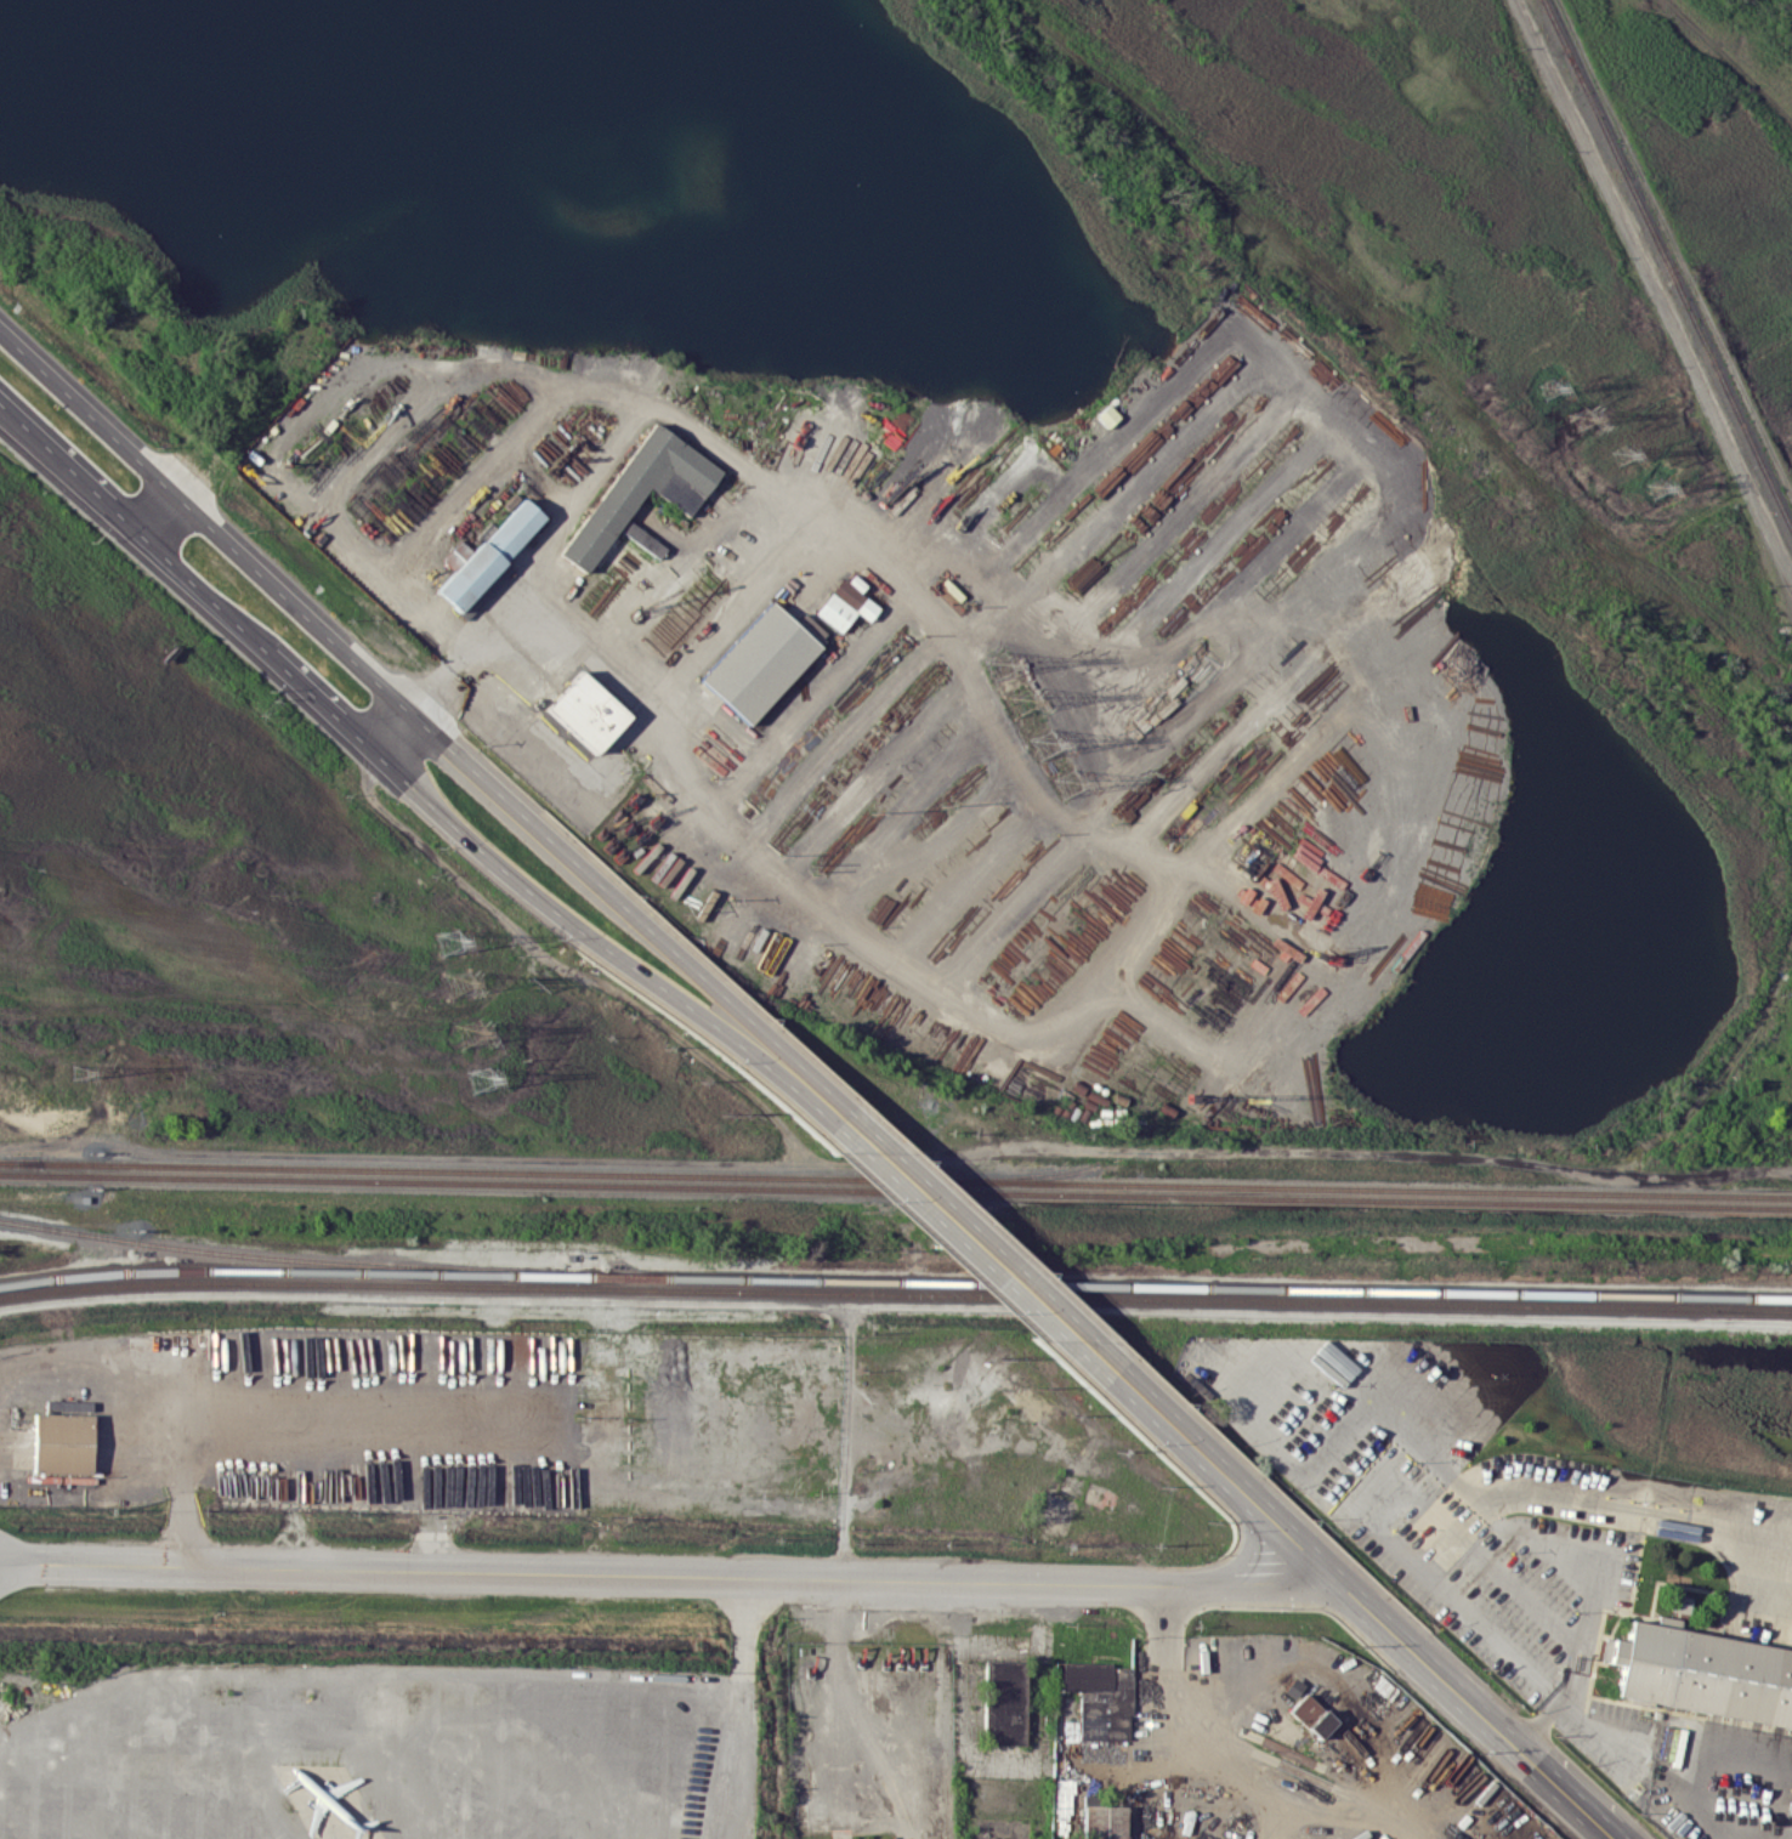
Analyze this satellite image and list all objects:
power tower: (1549, 388)
building: (1106, 415)
power tower: (1581, 418)
power tower: (1621, 454)
road: (69, 467)
power tower: (1656, 487)
building: (616, 501)
road: (155, 513)
road: (200, 522)
building: (642, 539)
building: (486, 555)
road: (200, 588)
building: (844, 602)
road: (563, 623)
road: (1278, 635)
building: (761, 660)
power tower: (1000, 665)
road: (316, 692)
building: (585, 711)
road: (385, 725)
power tower: (1047, 743)
power tower: (1067, 783)
road: (1093, 833)
building: (1294, 864)
road: (591, 887)
road: (568, 912)
power tower: (449, 941)
power tower: (459, 983)
power tower: (470, 1034)
power tower: (79, 1072)
power tower: (480, 1080)
railway: (19, 1163)
railway: (895, 1179)
railway: (896, 1190)
road: (913, 1190)
railway: (280, 1258)
railway: (385, 1271)
railway: (1281, 1288)
railway: (895, 1295)
road: (1146, 1404)
building: (62, 1443)
road: (1424, 1506)
road: (1292, 1540)
road: (1241, 1549)
road: (1593, 1568)
road: (1757, 1570)
road: (669, 1573)
road: (1428, 1667)
building: (1707, 1670)
building: (1292, 1687)
building: (1096, 1698)
building: (1004, 1701)
road: (866, 1709)
building: (1310, 1715)
road: (1547, 1776)
building: (1062, 1805)
building: (1102, 1821)
road: (1595, 1821)
building: (881, 1838)

